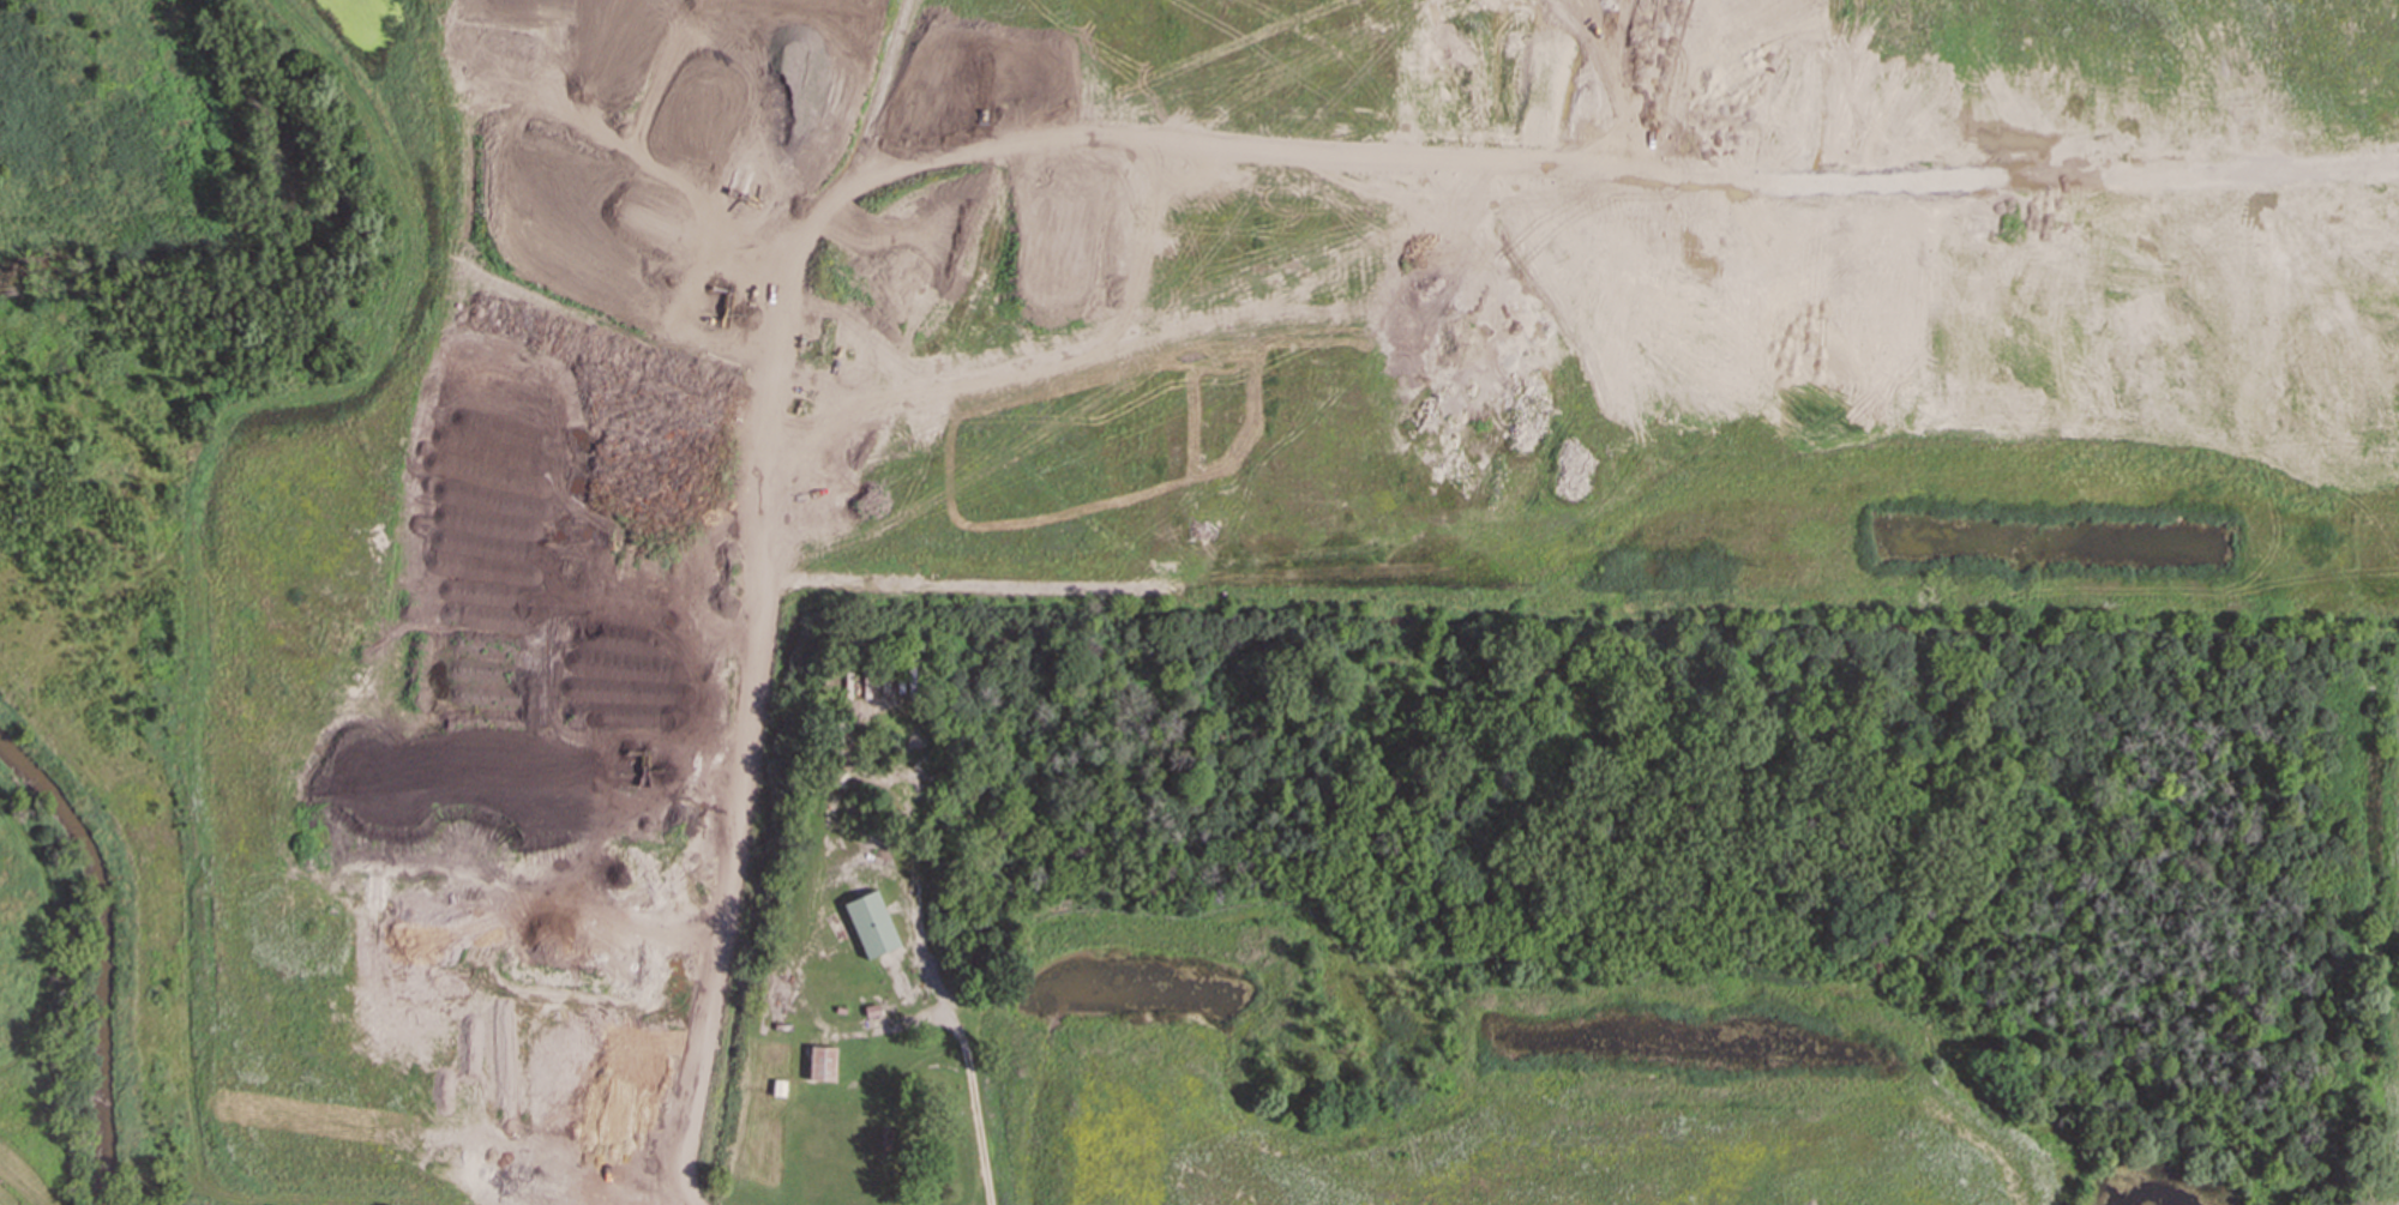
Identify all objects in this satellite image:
road: (748, 725)
building: (871, 924)
road: (976, 1104)

